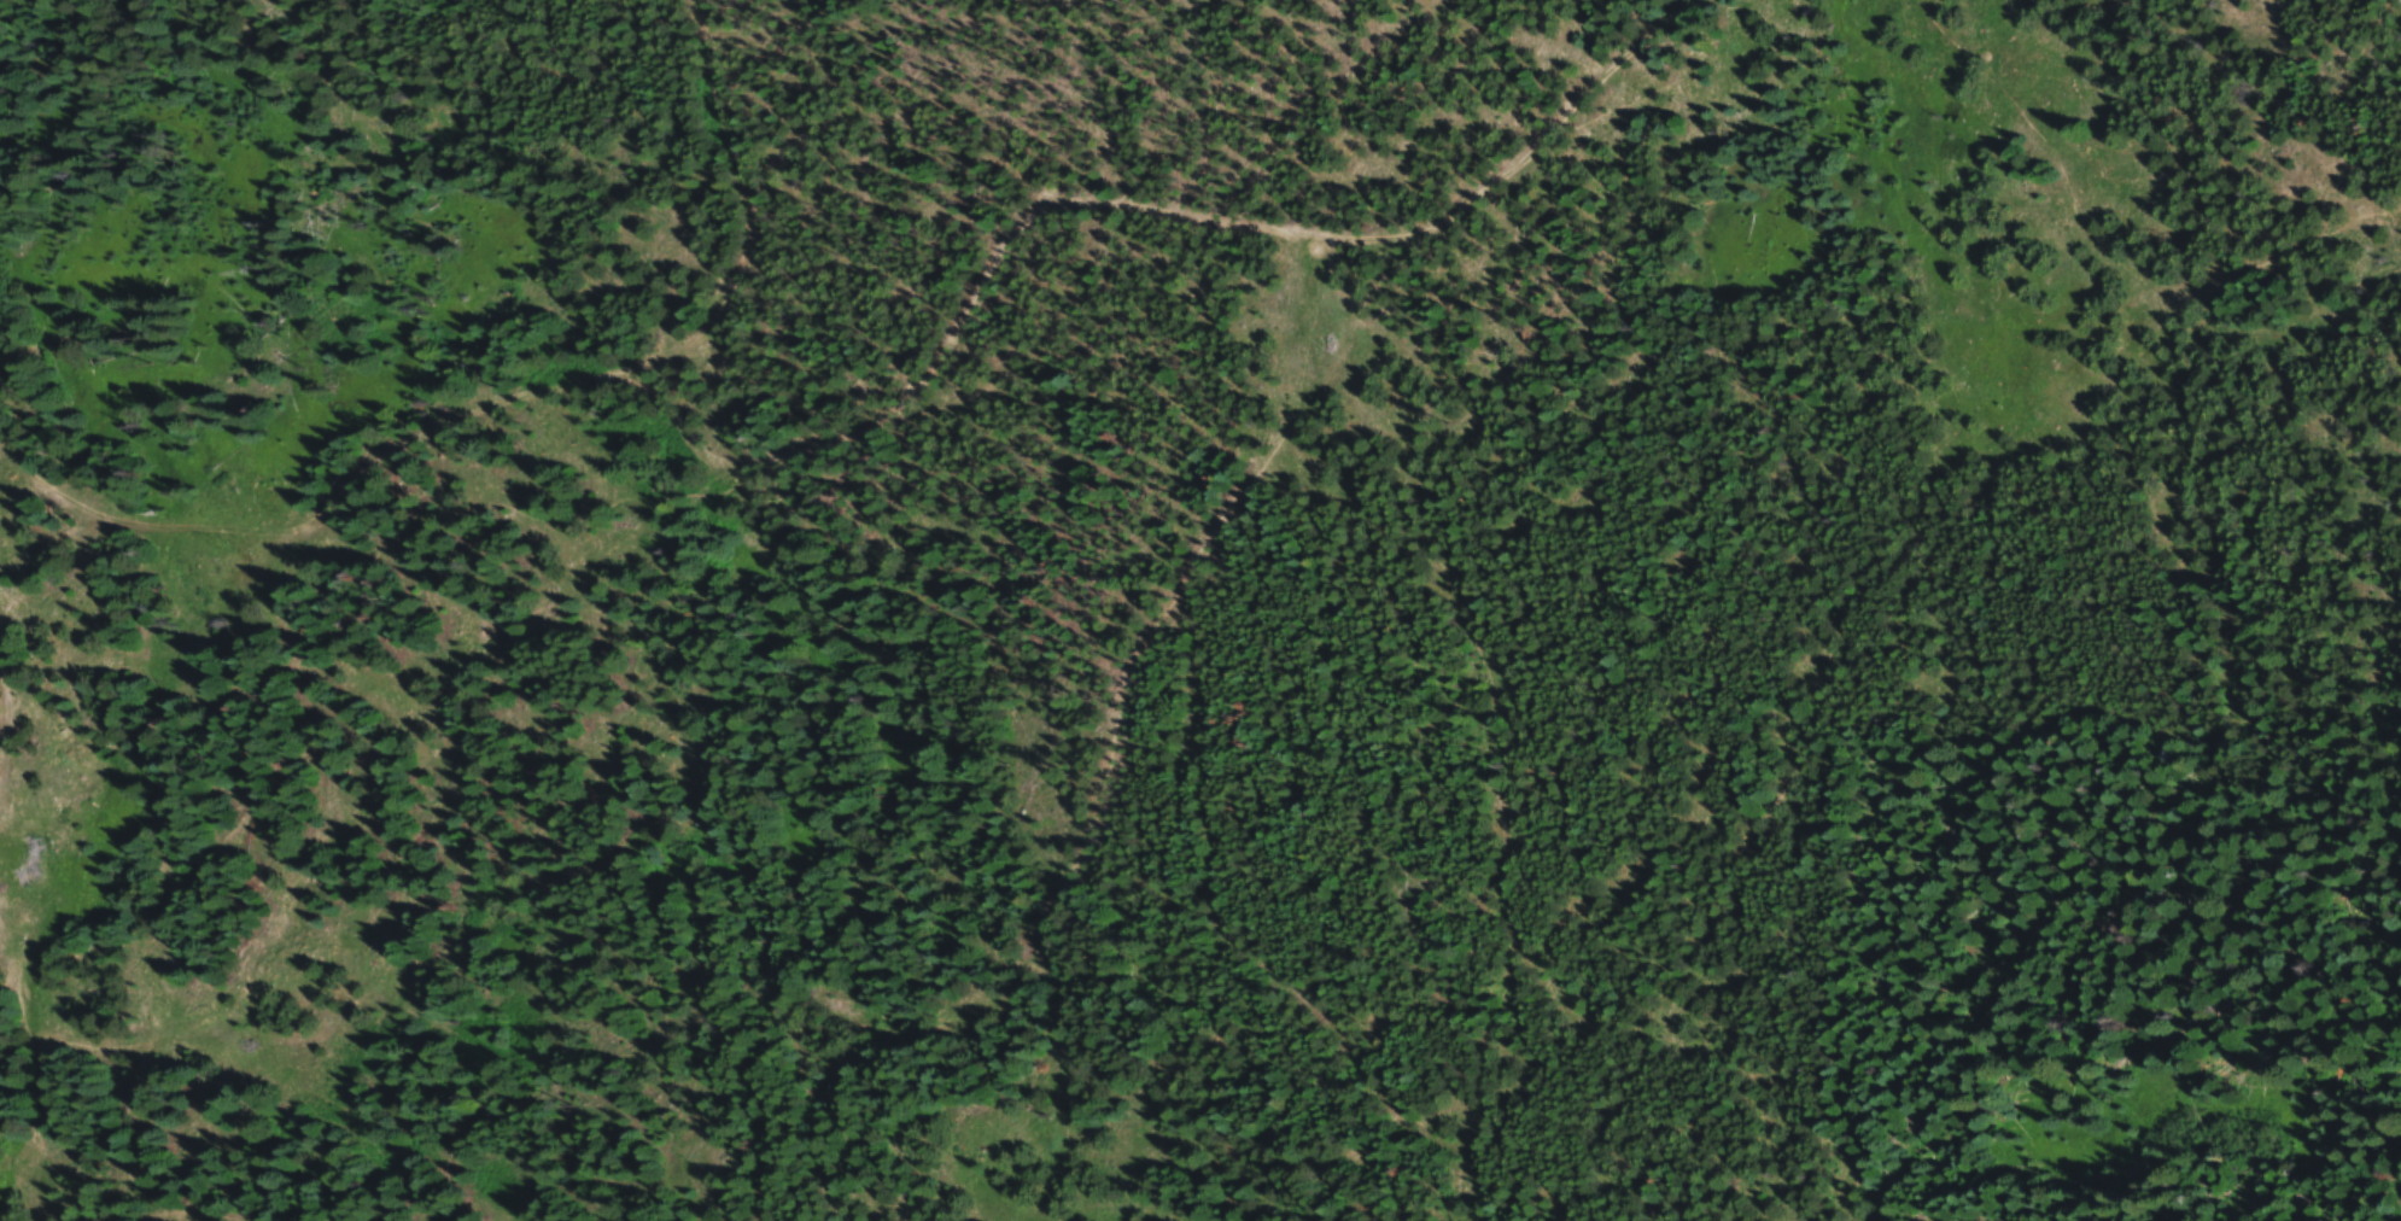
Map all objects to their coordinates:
road: (0, 753)
road: (7, 1046)

